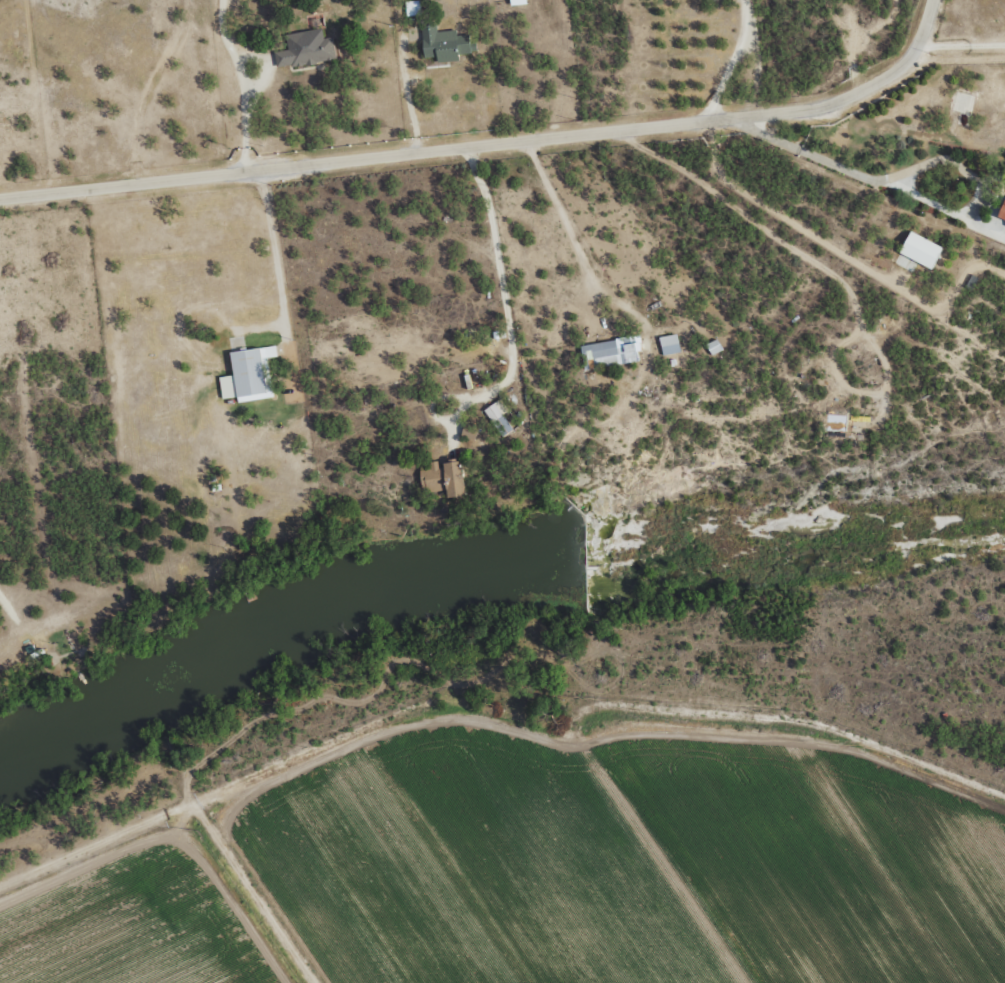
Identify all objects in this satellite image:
building: (518, 2)
building: (445, 44)
building: (305, 49)
road: (501, 121)
building: (1002, 211)
building: (917, 252)
building: (669, 344)
building: (714, 346)
building: (608, 353)
building: (248, 375)
building: (498, 417)
building: (469, 432)
building: (444, 479)
road: (489, 707)

